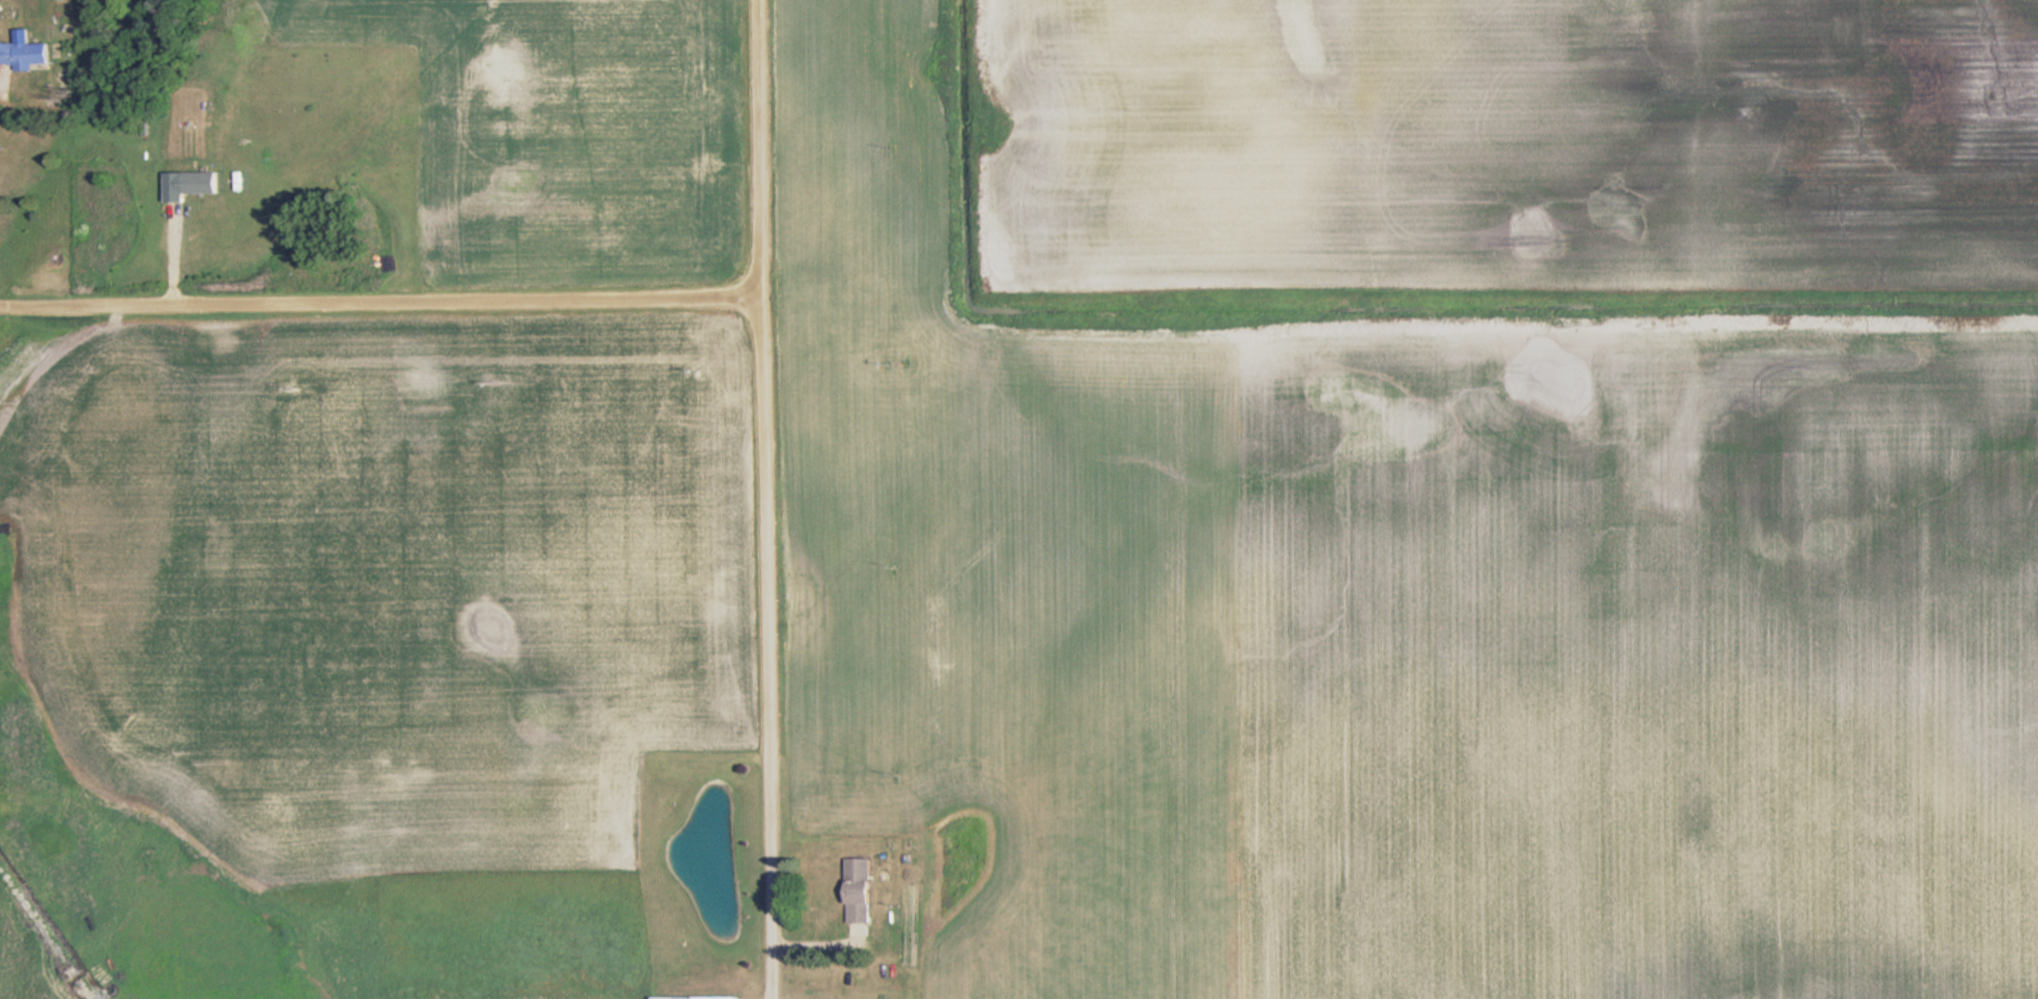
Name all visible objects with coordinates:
building: (24, 52)
building: (197, 182)
road: (385, 308)
road: (773, 499)
building: (859, 890)

